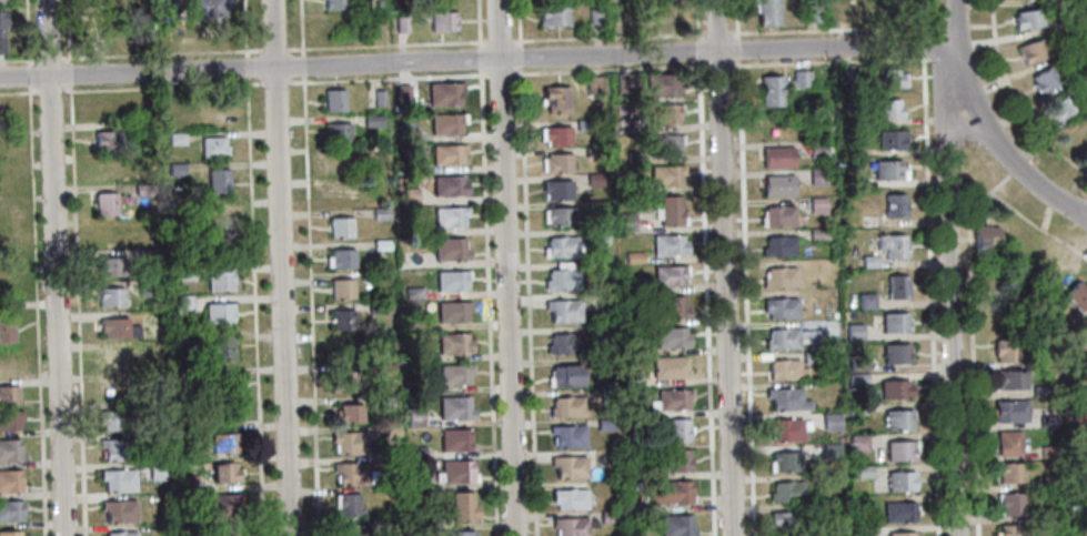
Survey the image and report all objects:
building: (3, 1)
building: (1067, 1)
building: (333, 3)
building: (104, 7)
building: (204, 8)
building: (884, 8)
building: (837, 10)
building: (766, 13)
building: (812, 14)
road: (919, 16)
building: (593, 17)
building: (553, 18)
building: (442, 20)
building: (1027, 20)
building: (400, 22)
road: (517, 22)
road: (477, 23)
road: (979, 24)
road: (930, 26)
road: (955, 26)
road: (300, 28)
road: (243, 29)
building: (3, 31)
road: (67, 31)
building: (104, 36)
road: (492, 41)
road: (920, 42)
road: (386, 45)
road: (273, 49)
road: (159, 53)
building: (1031, 53)
road: (519, 55)
road: (47, 59)
road: (479, 59)
road: (18, 60)
road: (477, 61)
road: (715, 64)
road: (301, 65)
road: (245, 67)
road: (68, 73)
building: (845, 73)
road: (499, 74)
road: (386, 78)
building: (885, 78)
building: (1043, 80)
road: (28, 82)
road: (273, 82)
building: (624, 82)
building: (593, 84)
building: (662, 84)
building: (779, 85)
road: (161, 87)
road: (49, 91)
road: (18, 92)
building: (443, 92)
building: (403, 93)
building: (378, 98)
building: (555, 98)
road: (1016, 98)
building: (333, 100)
building: (110, 108)
building: (887, 108)
building: (1063, 108)
building: (3, 112)
building: (662, 113)
building: (372, 121)
building: (445, 122)
building: (584, 124)
building: (624, 128)
building: (336, 132)
building: (407, 134)
building: (555, 135)
building: (174, 138)
building: (889, 138)
building: (105, 141)
building: (663, 144)
building: (212, 145)
building: (4, 149)
building: (816, 149)
building: (853, 149)
building: (374, 152)
building: (594, 152)
building: (446, 153)
building: (634, 156)
building: (775, 156)
building: (556, 162)
building: (338, 163)
building: (413, 164)
road: (1014, 165)
building: (174, 169)
building: (886, 169)
road: (1013, 170)
building: (109, 172)
building: (664, 174)
building: (815, 175)
building: (217, 180)
building: (595, 180)
building: (853, 181)
building: (7, 182)
building: (776, 184)
building: (447, 185)
building: (636, 188)
building: (143, 190)
building: (556, 190)
building: (339, 194)
building: (409, 195)
building: (107, 203)
building: (816, 204)
building: (892, 204)
building: (596, 209)
building: (670, 211)
building: (380, 212)
building: (219, 214)
building: (7, 215)
building: (447, 215)
building: (558, 215)
building: (777, 215)
building: (866, 220)
building: (154, 221)
building: (624, 222)
road: (1037, 225)
building: (339, 227)
building: (817, 233)
building: (110, 235)
building: (597, 235)
building: (179, 236)
building: (983, 237)
building: (667, 244)
building: (892, 244)
building: (380, 245)
building: (776, 245)
building: (558, 246)
building: (449, 247)
building: (218, 249)
building: (147, 257)
building: (631, 257)
building: (341, 259)
building: (868, 261)
road: (946, 263)
building: (111, 266)
road: (704, 266)
road: (54, 267)
road: (281, 267)
road: (506, 267)
road: (723, 267)
road: (745, 267)
building: (184, 273)
building: (668, 275)
building: (777, 276)
building: (561, 279)
building: (982, 279)
building: (221, 280)
building: (450, 281)
building: (6, 283)
building: (896, 286)
building: (633, 287)
building: (144, 289)
building: (341, 289)
building: (412, 292)
road: (929, 294)
building: (1077, 294)
building: (109, 296)
building: (864, 300)
road: (526, 301)
building: (181, 303)
road: (486, 303)
road: (309, 305)
road: (253, 306)
building: (668, 306)
building: (375, 307)
building: (778, 307)
road: (76, 310)
building: (562, 310)
road: (34, 311)
building: (451, 311)
building: (218, 312)
building: (1086, 317)
building: (340, 320)
building: (634, 320)
building: (893, 322)
building: (115, 327)
building: (6, 328)
building: (853, 331)
building: (600, 332)
building: (180, 334)
building: (671, 336)
building: (779, 337)
road: (969, 338)
building: (453, 343)
building: (563, 343)
building: (1069, 343)
building: (219, 348)
building: (636, 350)
building: (1005, 350)
building: (893, 352)
building: (414, 353)
building: (1065, 355)
building: (809, 356)
building: (111, 358)
building: (854, 362)
building: (1041, 362)
building: (595, 363)
building: (9, 364)
building: (668, 366)
building: (785, 368)
building: (383, 370)
building: (454, 373)
building: (563, 375)
building: (633, 377)
building: (855, 378)
building: (1008, 378)
building: (348, 381)
building: (221, 383)
building: (893, 388)
building: (118, 390)
building: (1040, 391)
building: (8, 394)
building: (606, 396)
building: (672, 398)
building: (785, 398)
building: (385, 402)
building: (564, 406)
building: (454, 407)
building: (633, 409)
building: (854, 409)
building: (1008, 409)
building: (221, 413)
building: (349, 413)
building: (414, 415)
building: (896, 418)
building: (9, 419)
building: (114, 419)
building: (829, 421)
building: (1046, 421)
building: (603, 424)
building: (783, 428)
building: (677, 429)
building: (390, 431)
building: (1085, 432)
building: (566, 435)
building: (155, 437)
building: (454, 439)
building: (223, 442)
building: (351, 442)
building: (857, 442)
building: (1006, 442)
building: (115, 448)
building: (9, 449)
building: (898, 449)
building: (1047, 451)
building: (414, 452)
building: (831, 452)
building: (677, 459)
building: (389, 461)
building: (784, 461)
building: (567, 466)
building: (1083, 467)
building: (155, 471)
building: (860, 471)
building: (222, 472)
building: (454, 472)
building: (1009, 472)
building: (352, 473)
building: (117, 479)
building: (9, 481)
building: (898, 481)
building: (1049, 481)
building: (188, 482)
building: (416, 483)
building: (667, 491)
building: (785, 491)
building: (567, 498)
building: (1008, 503)
building: (222, 504)
building: (348, 504)
building: (462, 505)
building: (827, 508)
building: (10, 509)
building: (118, 509)
building: (897, 510)
building: (1045, 513)
building: (185, 516)
building: (607, 516)
building: (787, 520)
building: (383, 523)
building: (675, 525)
building: (570, 526)
building: (225, 529)
building: (350, 529)
building: (1011, 529)
building: (860, 530)
building: (10, 533)
building: (119, 533)
building: (457, 533)
building: (899, 534)

